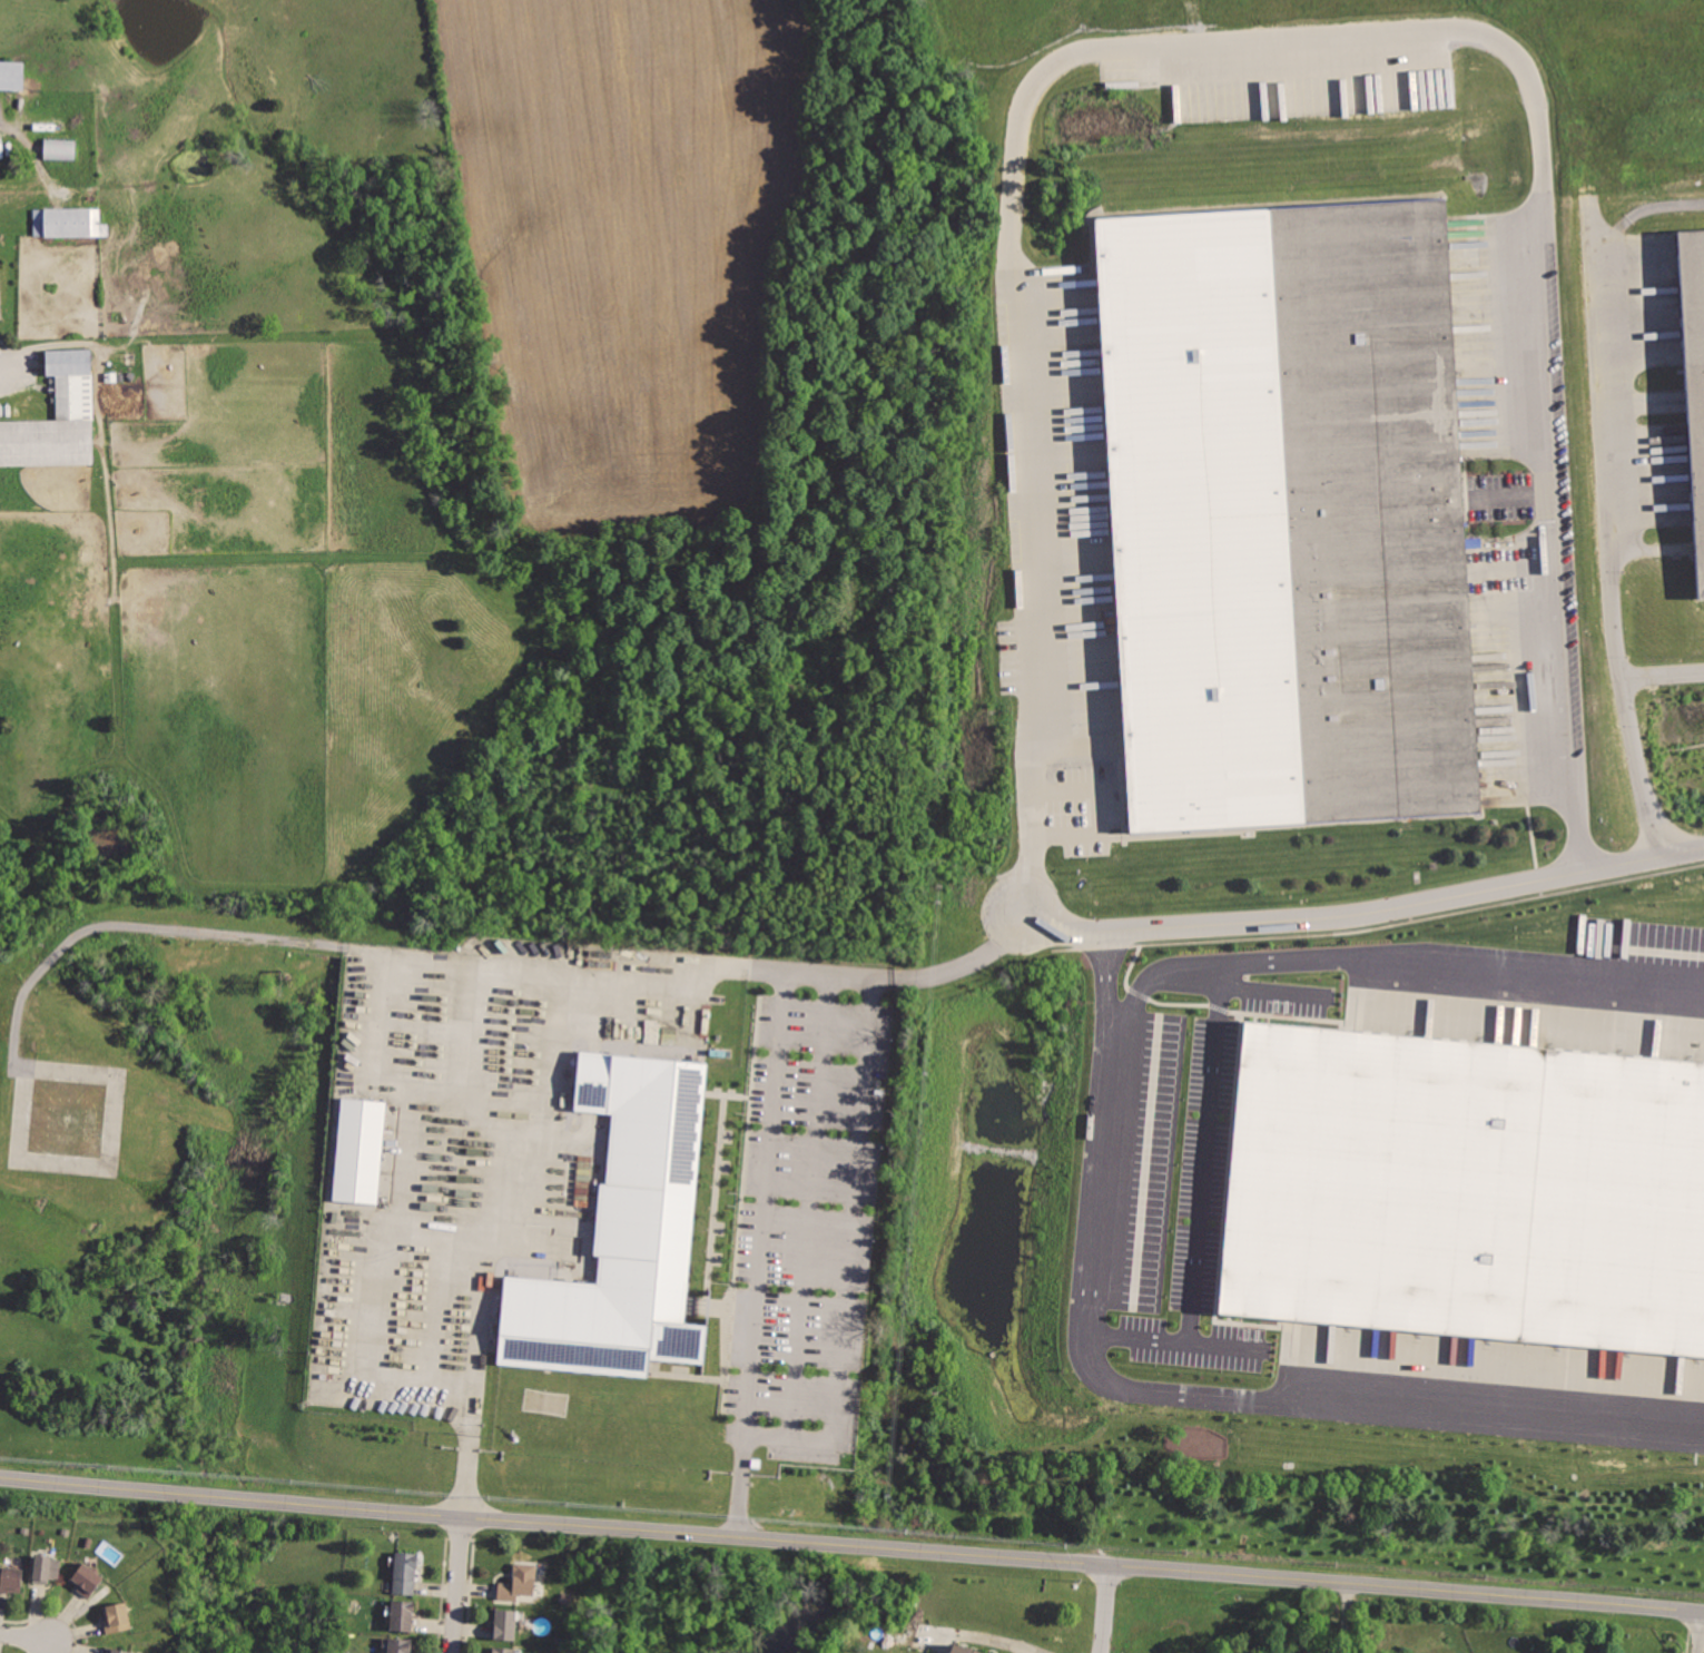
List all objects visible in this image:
road: (1272, 36)
building: (12, 75)
crop: (1626, 78)
building: (61, 148)
road: (1665, 207)
building: (69, 223)
road: (26, 367)
building: (1694, 374)
crop: (346, 387)
building: (53, 420)
building: (1284, 515)
road: (1608, 537)
road: (1663, 675)
road: (1097, 808)
road: (1365, 917)
road: (1397, 958)
road: (550, 970)
road: (897, 976)
road: (1277, 988)
road: (470, 1031)
road: (13, 1041)
road: (466, 1101)
building: (358, 1150)
road: (1206, 1152)
building: (1467, 1189)
road: (808, 1204)
building: (623, 1231)
road: (445, 1234)
road: (761, 1254)
road: (847, 1259)
road: (485, 1269)
road: (377, 1283)
flagpole: (728, 1289)
flagpole: (726, 1295)
road: (434, 1306)
road: (1179, 1340)
road: (1179, 1394)
road: (469, 1475)
road: (851, 1546)
building: (46, 1565)
building: (405, 1572)
building: (11, 1576)
building: (518, 1580)
building: (87, 1581)
road: (460, 1585)
road: (1106, 1608)
building: (117, 1616)
building: (403, 1616)
road: (1346, 1618)
building: (505, 1623)
road: (995, 1637)
road: (27, 1640)
building: (397, 1644)
building: (503, 1649)
building: (964, 1649)
building: (119, 1650)

